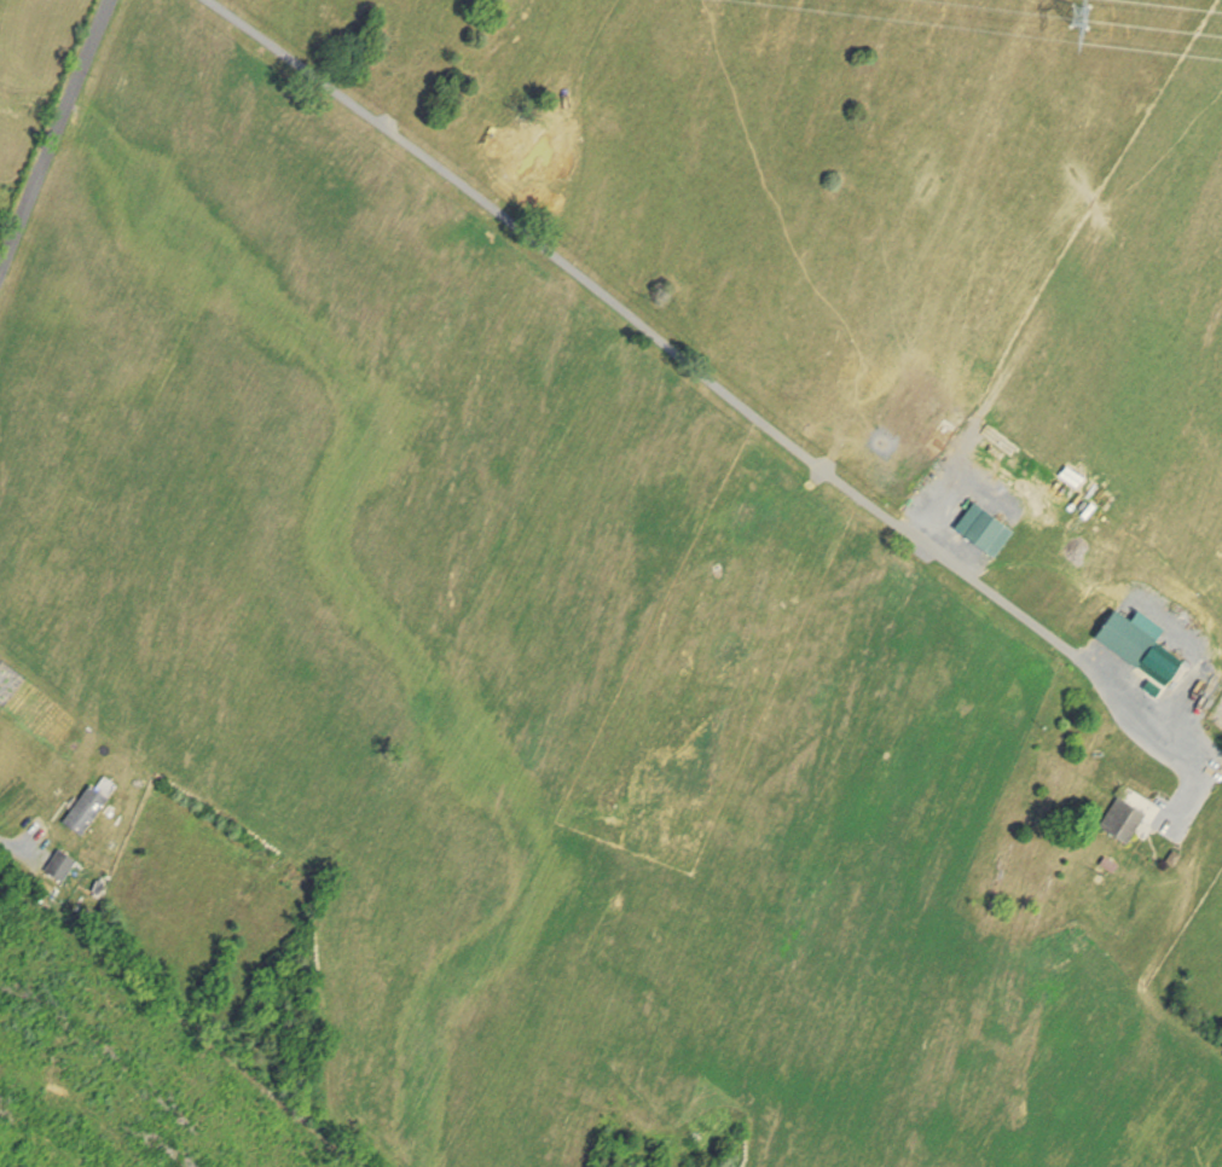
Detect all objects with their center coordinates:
road: (109, 8)
power tower: (1111, 21)
road: (52, 147)
road: (719, 383)
road: (12, 844)

